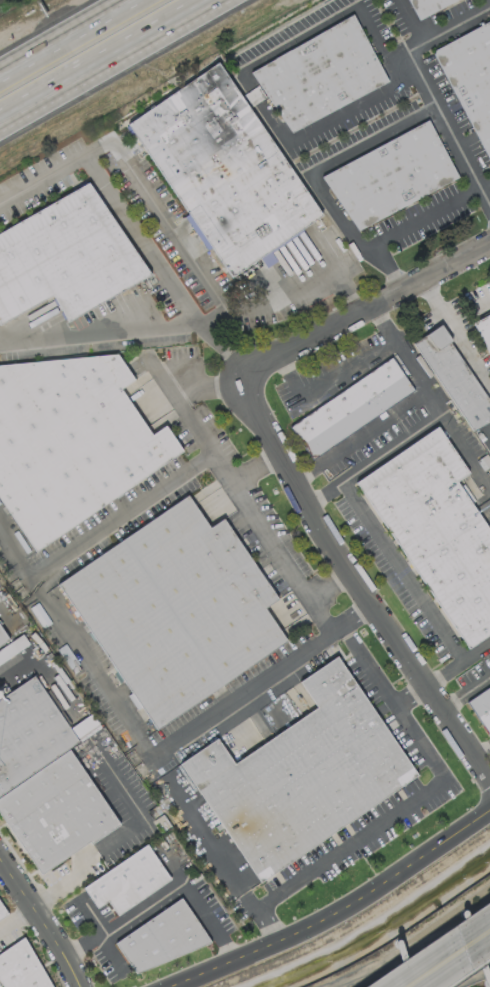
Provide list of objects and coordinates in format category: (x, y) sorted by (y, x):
building: (426, 6)
road: (320, 21)
road: (68, 39)
road: (418, 42)
road: (101, 57)
building: (320, 74)
building: (471, 79)
road: (253, 94)
road: (332, 121)
road: (352, 151)
building: (224, 169)
building: (390, 175)
road: (113, 200)
road: (161, 214)
road: (346, 253)
building: (65, 256)
road: (487, 298)
road: (366, 310)
building: (484, 330)
road: (100, 332)
road: (455, 332)
road: (222, 349)
road: (408, 358)
building: (454, 377)
road: (329, 379)
building: (351, 407)
road: (444, 413)
road: (485, 430)
road: (362, 435)
building: (70, 441)
road: (468, 450)
road: (374, 455)
road: (255, 466)
road: (173, 477)
building: (437, 530)
road: (9, 546)
road: (284, 561)
road: (400, 569)
road: (358, 582)
road: (330, 583)
road: (34, 584)
road: (1, 607)
building: (175, 609)
building: (2, 638)
road: (457, 661)
road: (91, 666)
road: (45, 671)
road: (465, 689)
road: (410, 694)
road: (234, 696)
building: (481, 705)
road: (482, 749)
building: (302, 773)
building: (44, 781)
road: (412, 799)
road: (195, 822)
road: (121, 834)
road: (172, 860)
building: (127, 880)
road: (159, 891)
road: (250, 899)
building: (2, 911)
road: (331, 912)
road: (13, 919)
road: (38, 927)
building: (159, 938)
road: (443, 954)
railway: (429, 961)
railway: (440, 965)
building: (21, 968)

